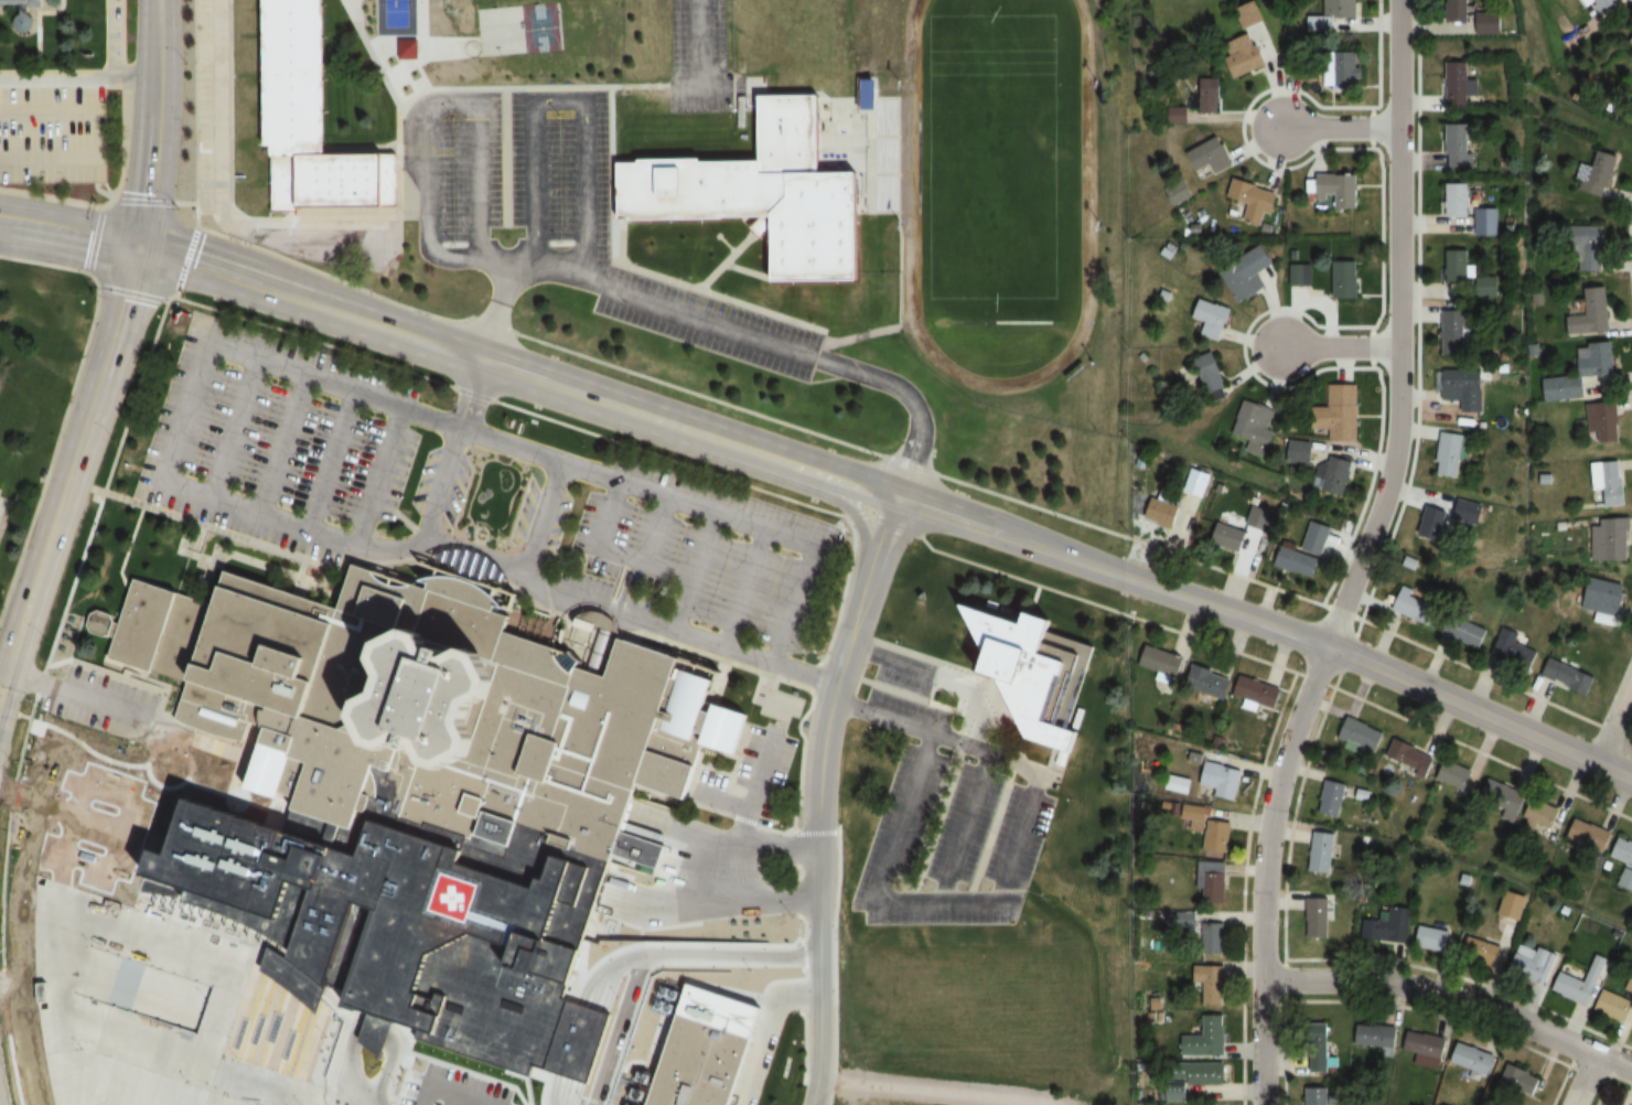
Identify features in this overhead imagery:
building: (1602, 4)
building: (1458, 10)
building: (25, 11)
building: (1250, 14)
building: (1330, 14)
building: (1490, 23)
building: (1631, 42)
road: (697, 47)
parking lot: (699, 57)
building: (1631, 58)
building: (1247, 61)
building: (1342, 69)
road: (77, 83)
building: (1460, 85)
building: (1209, 95)
road: (570, 100)
road: (430, 104)
building: (309, 116)
parking lot: (56, 121)
road: (154, 122)
road: (1371, 125)
road: (1340, 131)
road: (96, 133)
road: (195, 147)
building: (1457, 147)
park: (990, 157)
building: (1207, 157)
building: (1598, 173)
building: (1340, 190)
building: (772, 191)
building: (1177, 191)
road: (218, 195)
building: (1253, 200)
building: (1457, 200)
road: (153, 201)
road: (103, 203)
parking lot: (582, 219)
building: (1486, 221)
road: (71, 230)
road: (94, 239)
traffic signals: (141, 246)
building: (1590, 247)
road: (494, 264)
building: (1457, 266)
building: (1248, 273)
building: (1344, 279)
building: (1488, 286)
road: (131, 291)
road: (310, 302)
building: (1591, 313)
building: (1211, 318)
road: (716, 321)
building: (1454, 332)
road: (313, 340)
road: (537, 340)
road: (1371, 346)
road: (1340, 347)
road: (1248, 364)
building: (1211, 373)
building: (1582, 373)
building: (1465, 391)
road: (474, 394)
road: (67, 399)
building: (1342, 412)
building: (1604, 422)
road: (179, 426)
building: (1257, 427)
road: (689, 429)
road: (233, 431)
road: (282, 447)
building: (1302, 451)
building: (1451, 452)
road: (668, 457)
road: (330, 463)
road: (560, 464)
road: (910, 464)
road: (72, 465)
building: (1338, 476)
road: (378, 478)
road: (549, 479)
building: (1194, 482)
building: (1609, 482)
road: (873, 483)
road: (106, 486)
parking lot: (474, 500)
building: (1469, 512)
building: (1162, 513)
road: (882, 518)
building: (1431, 523)
road: (762, 528)
road: (656, 530)
building: (1242, 533)
building: (1612, 539)
road: (127, 545)
road: (704, 546)
road: (608, 550)
building: (1304, 551)
road: (1360, 557)
road: (744, 587)
road: (543, 589)
building: (1606, 597)
building: (1416, 608)
road: (1269, 627)
building: (1468, 633)
building: (1515, 648)
building: (1163, 662)
road: (2, 669)
road: (103, 670)
building: (1029, 672)
building: (1569, 676)
building: (1209, 680)
building: (1258, 690)
road: (1288, 690)
parking lot: (103, 700)
building: (431, 702)
road: (13, 712)
road: (127, 718)
road: (1612, 722)
building: (1361, 734)
road: (770, 744)
road: (84, 745)
building: (1409, 758)
building: (1454, 774)
road: (80, 777)
building: (1221, 781)
road: (142, 791)
road: (13, 792)
road: (822, 796)
road: (973, 796)
building: (1332, 798)
building: (1501, 798)
parking lot: (68, 807)
building: (1539, 816)
parking lot: (951, 825)
road: (6, 832)
road: (63, 834)
building: (1588, 835)
building: (1217, 836)
road: (319, 843)
road: (726, 844)
building: (1322, 852)
building: (1624, 862)
building: (1213, 881)
road: (302, 882)
building: (175, 887)
road: (874, 890)
road: (705, 893)
helipad: (450, 895)
building: (1512, 905)
building: (1318, 918)
building: (1185, 920)
building: (1389, 926)
road: (287, 929)
road: (172, 937)
building: (1213, 937)
building: (1431, 937)
road: (687, 945)
building: (1481, 952)
building: (1532, 962)
building: (1581, 983)
building: (1630, 984)
road: (482, 985)
building: (1210, 985)
road: (662, 986)
road: (556, 990)
road: (781, 995)
road: (1454, 999)
road: (291, 1006)
road: (632, 1006)
building: (1614, 1006)
parking lot: (374, 1010)
building: (1375, 1037)
road: (170, 1038)
building: (1206, 1038)
road: (51, 1044)
road: (468, 1047)
building: (1320, 1047)
building: (1425, 1047)
road: (334, 1055)
building: (1472, 1059)
building: (706, 1064)
building: (1202, 1073)
road: (409, 1079)
building: (1521, 1079)
road: (1581, 1082)
road: (112, 1084)
building: (1316, 1095)
road: (582, 1096)
road: (332, 1101)

